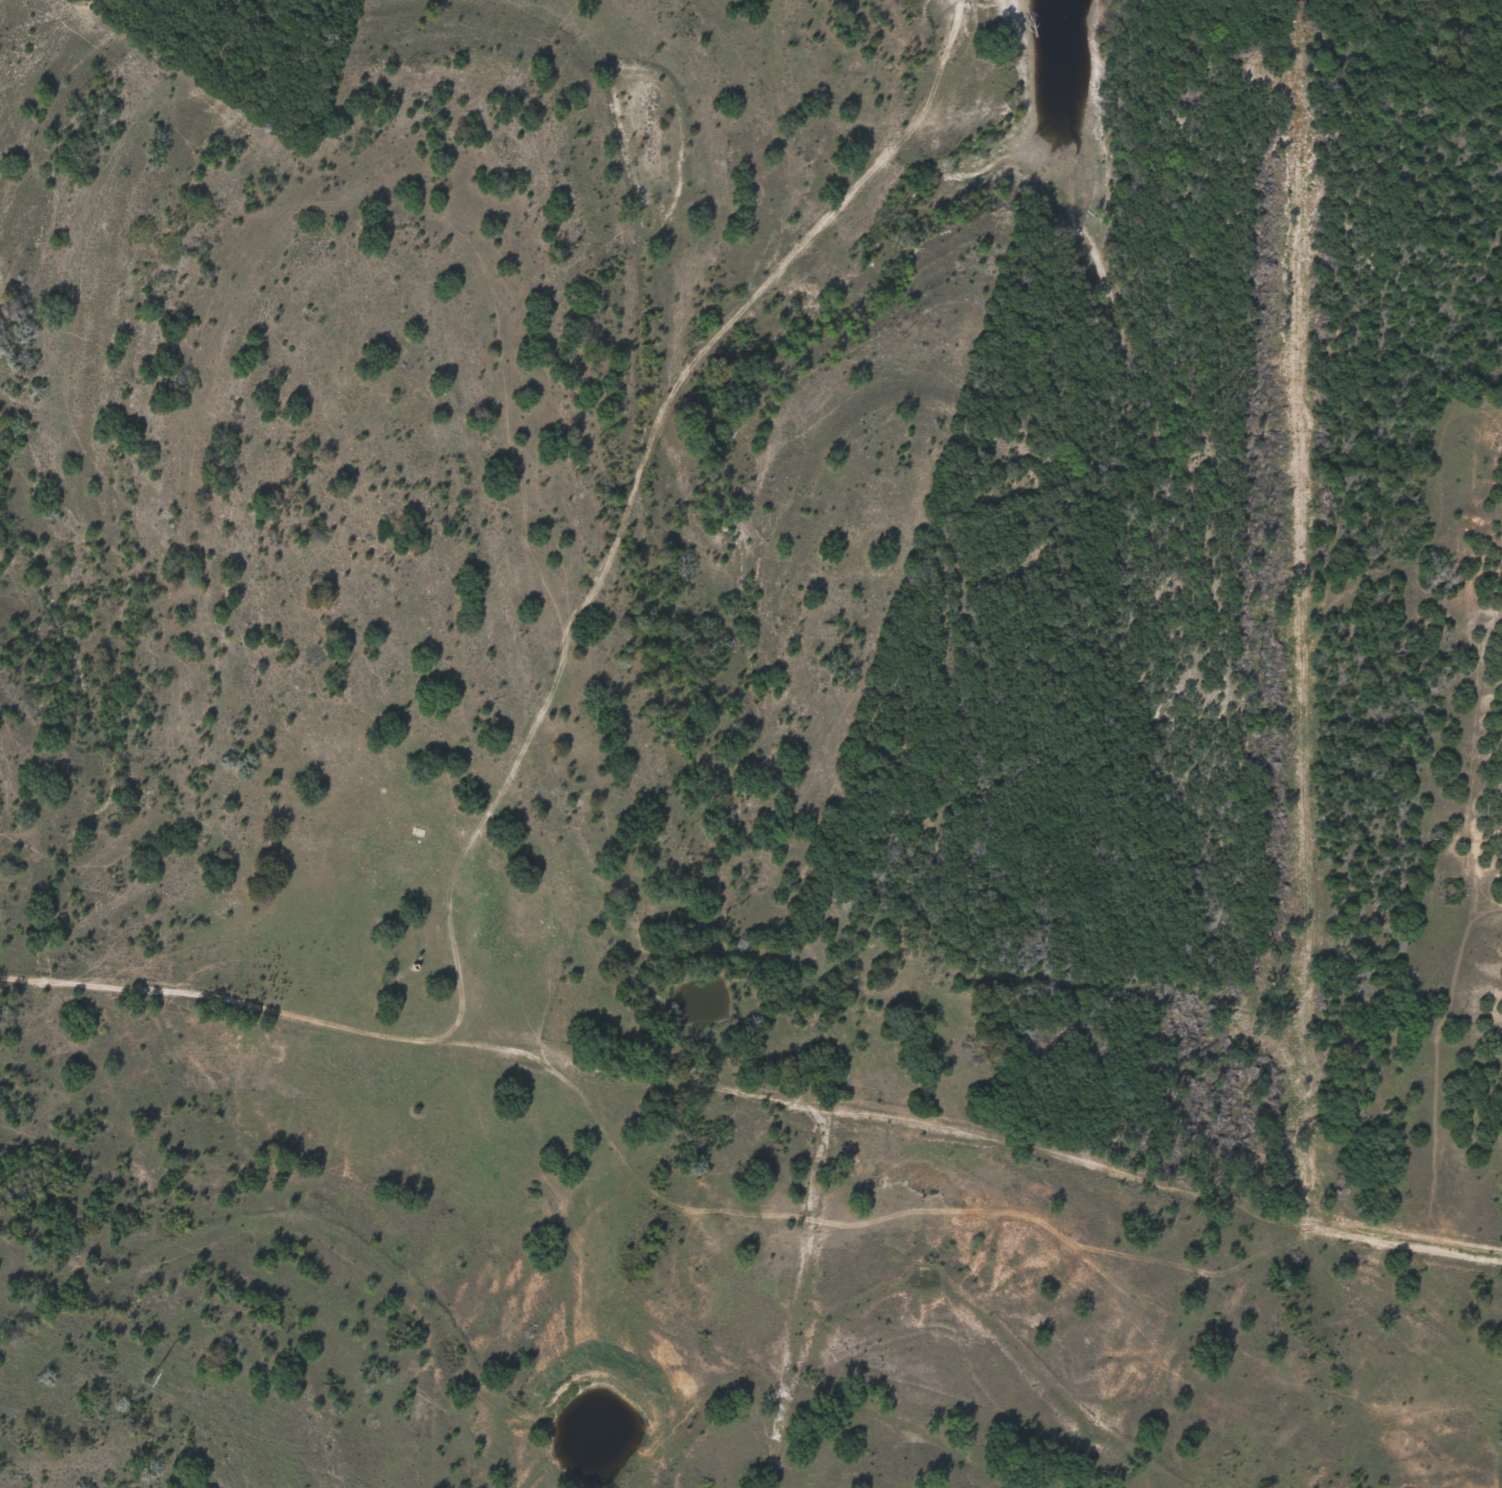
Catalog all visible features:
road: (645, 479)
road: (230, 1047)
power tower: (149, 1377)

